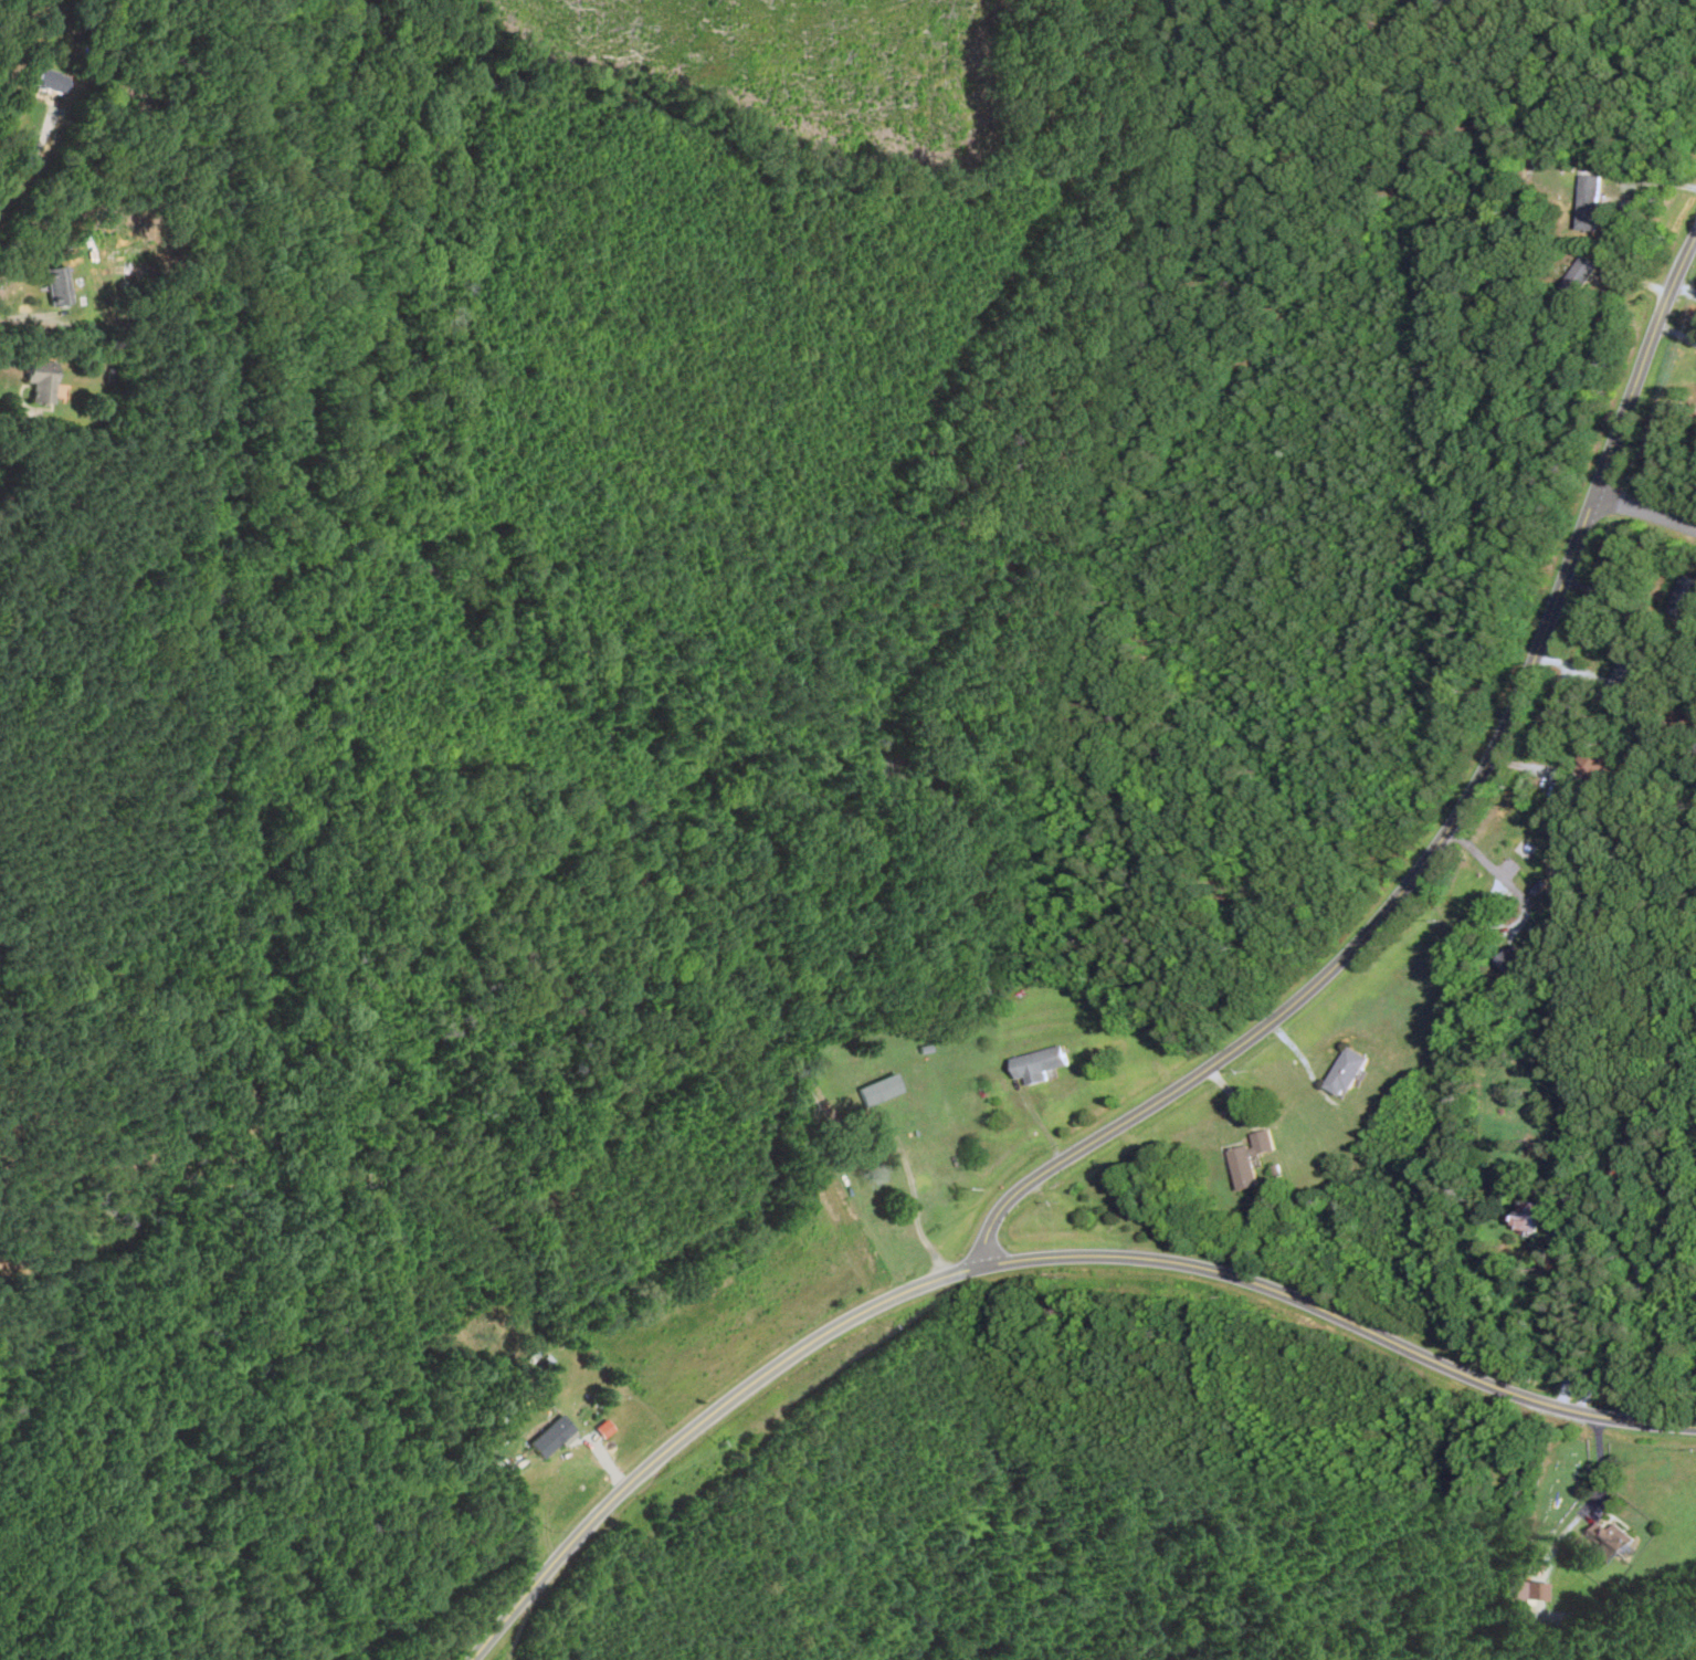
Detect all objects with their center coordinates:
building: (48, 81)
road: (33, 153)
building: (1588, 202)
building: (1578, 275)
building: (55, 284)
road: (19, 306)
building: (38, 381)
road: (14, 414)
road: (1645, 508)
building: (1684, 598)
building: (1630, 671)
building: (1593, 760)
road: (1445, 832)
road: (1489, 863)
building: (1510, 958)
building: (1039, 1063)
building: (1345, 1072)
building: (877, 1089)
building: (1249, 1159)
road: (1682, 1201)
road: (913, 1215)
building: (1526, 1216)
road: (1024, 1258)
building: (1053, 1311)
road: (1568, 1323)
building: (549, 1437)
building: (1609, 1542)
building: (1520, 1595)

